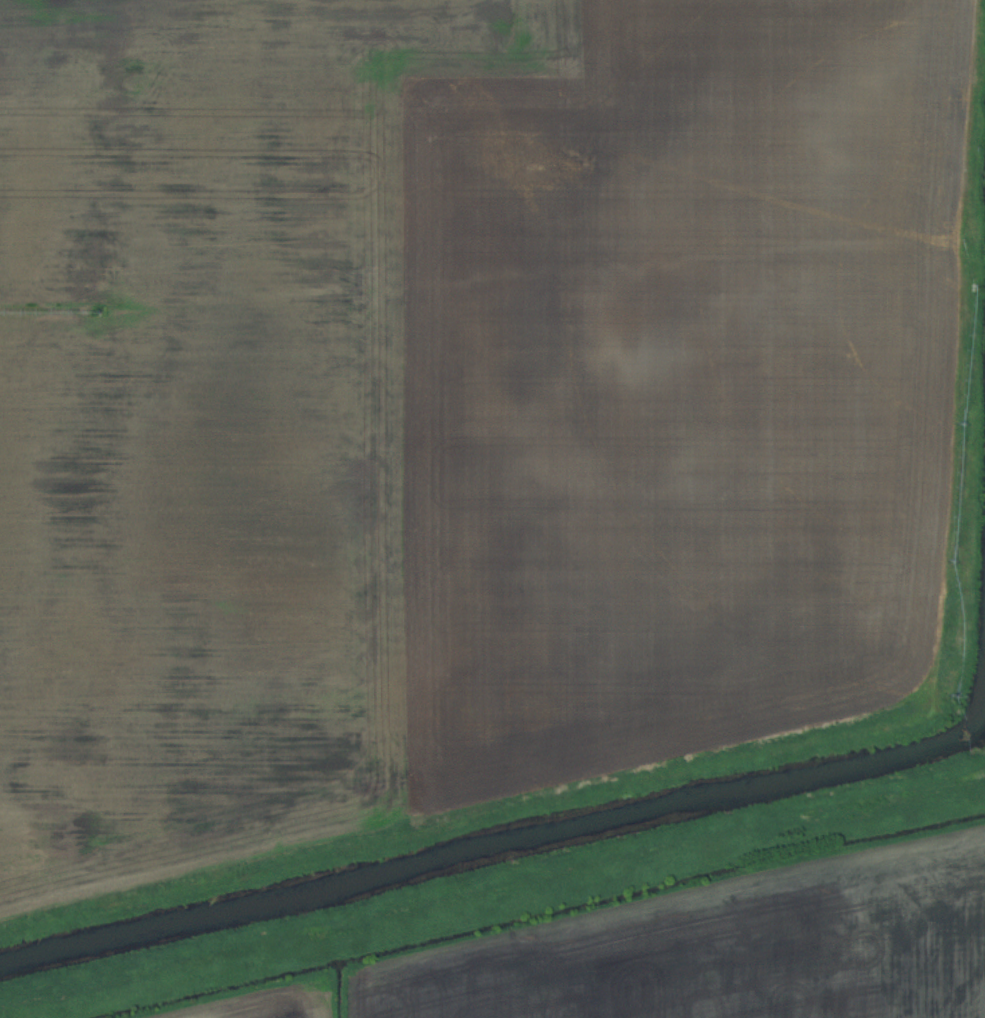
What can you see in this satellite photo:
river: (489, 836)

